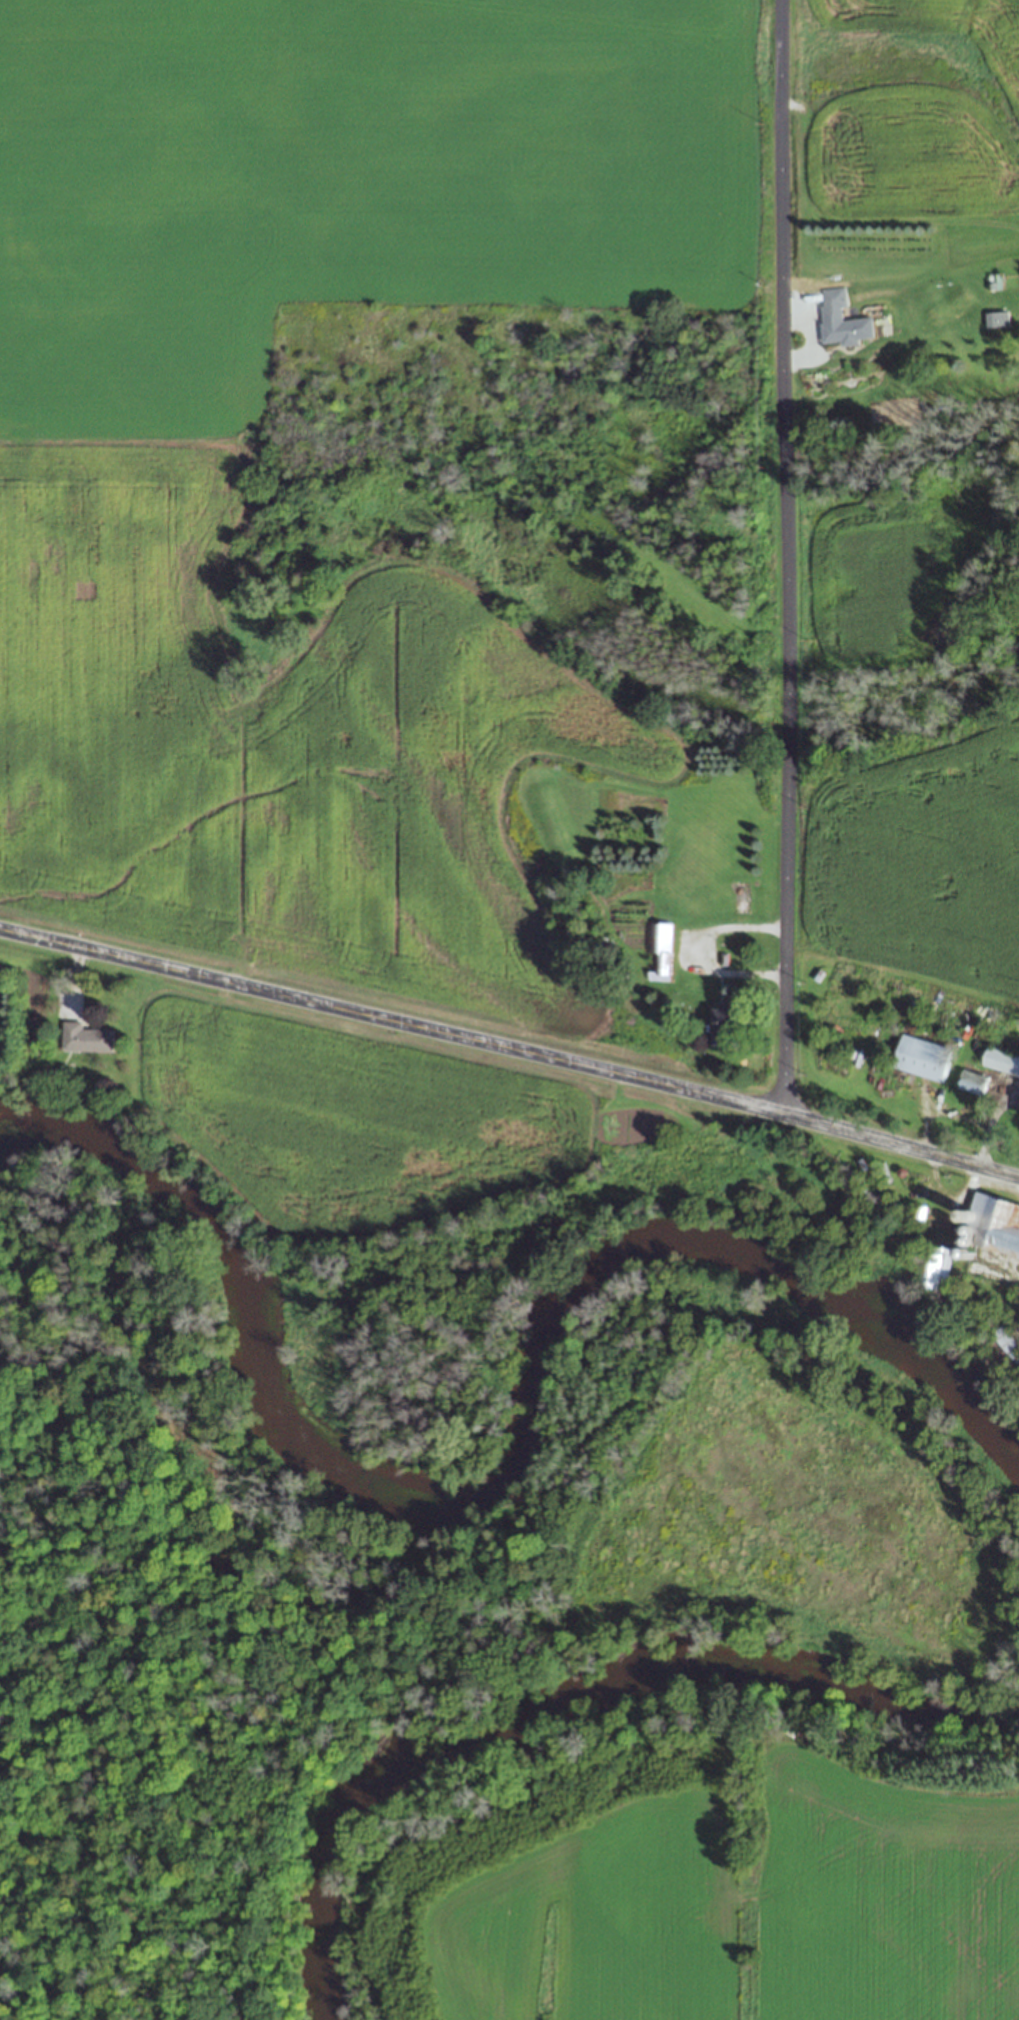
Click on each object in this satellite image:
building: (991, 318)
building: (842, 327)
road: (787, 557)
building: (662, 950)
building: (724, 1019)
building: (86, 1037)
road: (510, 1049)
building: (922, 1057)
building: (1001, 1059)
building: (972, 1081)
building: (1003, 1228)
building: (941, 1268)
building: (1003, 1347)
river: (516, 1467)
river: (559, 1689)

